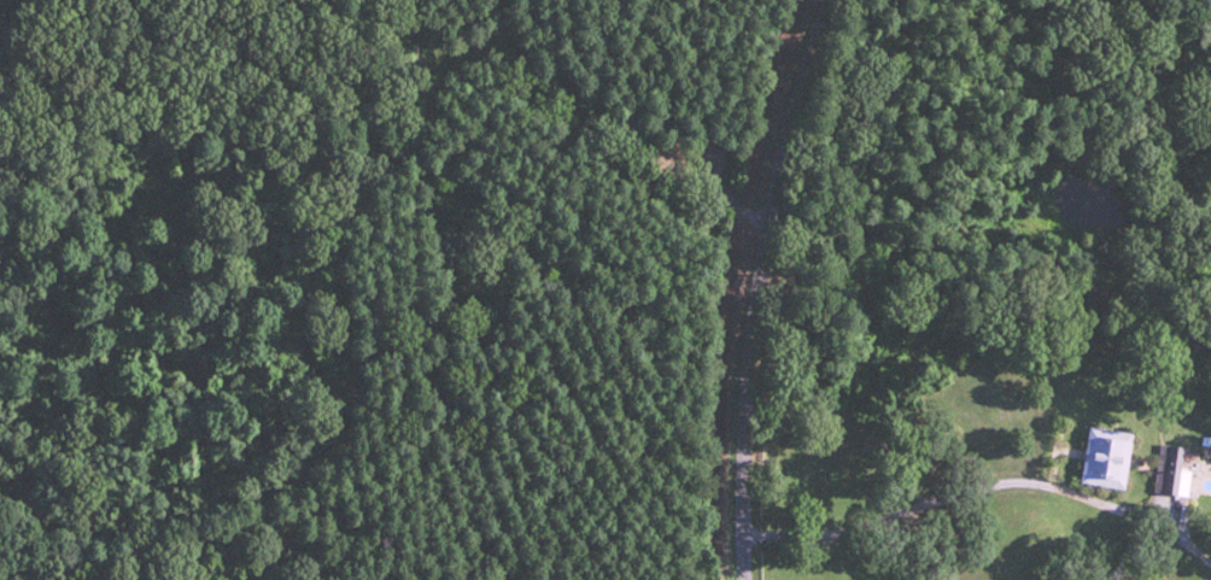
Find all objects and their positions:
road: (785, 287)
building: (1108, 456)
building: (1184, 464)

